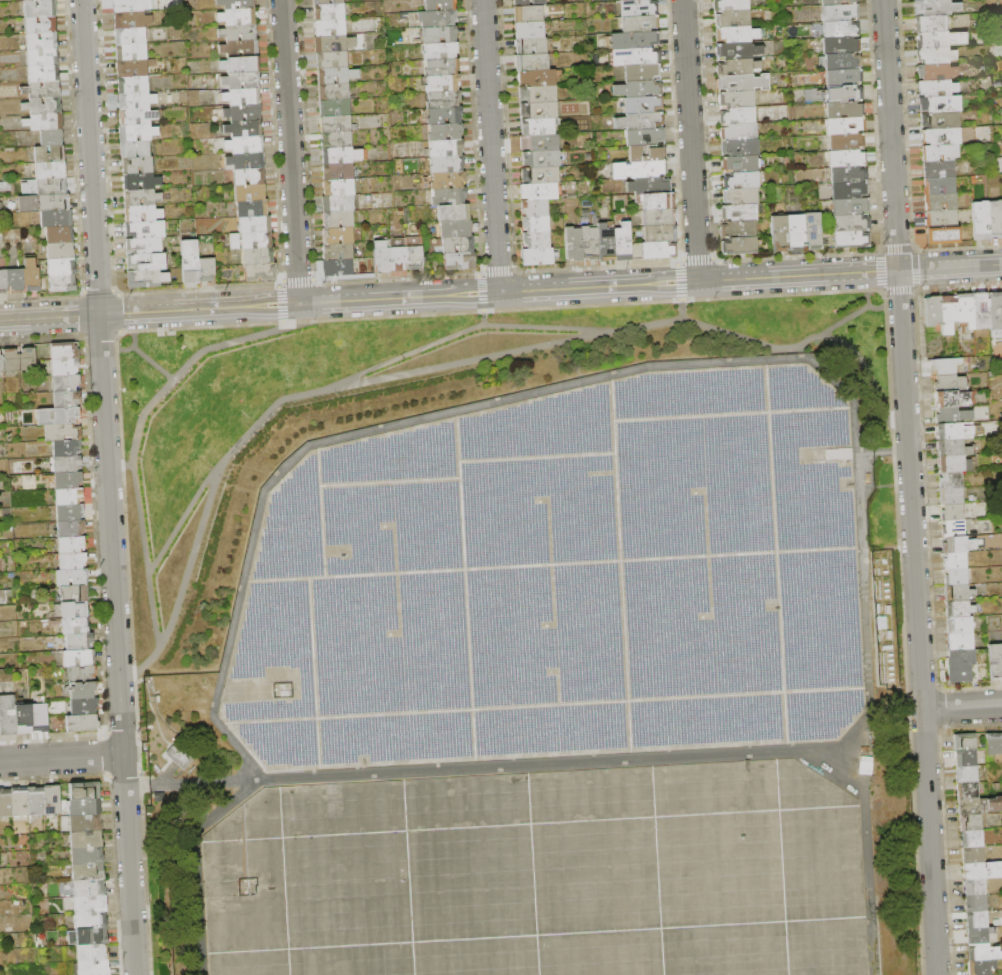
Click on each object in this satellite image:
building: (34, 0)
building: (513, 0)
building: (630, 0)
building: (338, 1)
building: (320, 2)
building: (521, 3)
building: (540, 3)
building: (838, 3)
building: (236, 4)
building: (440, 5)
building: (731, 5)
building: (131, 6)
building: (937, 7)
building: (639, 8)
building: (41, 9)
building: (329, 12)
building: (839, 13)
building: (529, 14)
building: (238, 17)
building: (438, 19)
building: (733, 19)
building: (132, 20)
building: (640, 23)
building: (931, 24)
building: (41, 26)
building: (330, 27)
building: (840, 29)
building: (529, 30)
building: (238, 33)
building: (737, 34)
building: (440, 35)
building: (131, 36)
building: (634, 40)
building: (940, 40)
building: (42, 42)
building: (334, 43)
building: (532, 46)
building: (841, 46)
building: (240, 48)
building: (746, 50)
building: (441, 51)
building: (132, 53)
building: (935, 56)
building: (635, 57)
building: (43, 58)
building: (332, 60)
building: (843, 61)
building: (532, 62)
building: (240, 65)
building: (738, 67)
building: (135, 68)
building: (442, 68)
building: (642, 72)
building: (936, 72)
building: (44, 74)
building: (333, 76)
building: (843, 77)
building: (537, 78)
building: (241, 81)
building: (743, 82)
building: (442, 84)
building: (133, 85)
building: (937, 88)
building: (638, 89)
building: (42, 90)
building: (334, 92)
building: (538, 94)
building: (845, 94)
building: (242, 97)
building: (737, 99)
building: (443, 100)
building: (136, 101)
building: (644, 104)
building: (940, 104)
building: (43, 106)
building: (335, 108)
building: (844, 109)
building: (539, 110)
building: (243, 112)
building: (445, 116)
building: (738, 116)
building: (137, 117)
building: (941, 120)
building: (640, 121)
building: (45, 122)
building: (335, 124)
building: (845, 125)
building: (538, 127)
building: (244, 129)
building: (445, 132)
building: (739, 132)
building: (137, 133)
building: (941, 136)
building: (645, 137)
building: (51, 138)
building: (336, 140)
road: (690, 141)
building: (846, 141)
building: (540, 143)
building: (245, 145)
road: (491, 146)
building: (740, 148)
building: (135, 149)
building: (446, 149)
road: (290, 152)
building: (940, 153)
building: (50, 154)
building: (647, 154)
building: (341, 156)
building: (847, 158)
building: (542, 159)
building: (246, 161)
building: (740, 164)
building: (138, 165)
building: (447, 165)
building: (49, 170)
building: (639, 170)
building: (939, 170)
building: (339, 172)
building: (540, 175)
building: (848, 175)
building: (249, 176)
building: (448, 180)
building: (742, 180)
building: (141, 181)
building: (650, 186)
building: (939, 186)
building: (48, 187)
building: (339, 187)
building: (849, 190)
building: (250, 192)
building: (539, 192)
building: (742, 196)
building: (449, 197)
building: (142, 198)
building: (941, 201)
building: (658, 202)
building: (44, 203)
building: (338, 204)
building: (850, 206)
building: (252, 208)
building: (536, 208)
building: (740, 212)
building: (453, 213)
building: (154, 214)
building: (659, 218)
building: (941, 218)
building: (56, 219)
building: (338, 219)
building: (996, 219)
building: (982, 221)
building: (851, 223)
building: (255, 224)
building: (536, 224)
building: (456, 228)
building: (146, 229)
building: (739, 229)
building: (813, 230)
building: (796, 232)
building: (780, 233)
building: (660, 234)
building: (60, 235)
building: (337, 235)
building: (943, 235)
building: (851, 239)
building: (537, 240)
building: (251, 241)
building: (623, 242)
building: (590, 243)
building: (606, 243)
building: (458, 244)
building: (573, 244)
building: (144, 245)
building: (740, 246)
building: (658, 250)
building: (61, 251)
building: (338, 252)
building: (259, 256)
building: (539, 256)
building: (414, 257)
building: (398, 259)
building: (383, 260)
building: (148, 261)
building: (190, 261)
building: (460, 261)
building: (338, 268)
building: (207, 269)
building: (261, 272)
building: (31, 275)
building: (61, 276)
building: (147, 278)
building: (15, 280)
building: (3, 282)
road: (500, 292)
road: (681, 301)
road: (868, 304)
road: (483, 309)
building: (966, 309)
building: (933, 311)
building: (981, 311)
building: (948, 314)
building: (996, 314)
road: (843, 320)
road: (460, 332)
road: (131, 345)
building: (64, 351)
building: (11, 360)
building: (28, 360)
building: (1, 362)
road: (151, 363)
road: (453, 363)
building: (946, 366)
building: (65, 367)
building: (66, 383)
building: (950, 384)
building: (67, 399)
building: (953, 400)
building: (59, 416)
building: (953, 416)
road: (373, 423)
building: (955, 431)
building: (62, 432)
road: (136, 434)
building: (66, 448)
building: (953, 448)
building: (68, 464)
building: (951, 464)
road: (120, 465)
building: (69, 480)
building: (951, 480)
road: (109, 487)
road: (909, 487)
building: (69, 496)
building: (951, 496)
building: (70, 512)
road: (185, 512)
building: (953, 512)
building: (954, 528)
building: (71, 529)
building: (72, 545)
building: (958, 545)
building: (73, 561)
building: (956, 561)
building: (72, 577)
building: (956, 577)
solar farm: (560, 580)
building: (959, 593)
building: (74, 594)
building: (1, 595)
building: (960, 609)
building: (74, 610)
building: (960, 625)
building: (76, 626)
building: (961, 641)
building: (79, 642)
building: (79, 658)
building: (995, 662)
building: (961, 665)
building: (82, 674)
building: (83, 691)
building: (85, 707)
road: (962, 707)
building: (8, 716)
building: (39, 718)
building: (23, 719)
building: (82, 723)
building: (965, 741)
building: (994, 743)
building: (176, 755)
road: (62, 757)
building: (965, 757)
building: (966, 774)
building: (967, 790)
building: (85, 791)
building: (52, 800)
building: (19, 801)
building: (35, 801)
building: (6, 803)
building: (979, 806)
building: (85, 807)
building: (971, 823)
building: (85, 824)
building: (972, 839)
building: (86, 840)
building: (973, 855)
building: (87, 856)
building: (983, 871)
building: (89, 872)
building: (975, 887)
building: (89, 888)
building: (976, 903)
building: (90, 904)
building: (977, 920)
building: (91, 921)
building: (979, 935)
building: (88, 937)
building: (93, 952)
building: (983, 952)
building: (94, 967)
building: (982, 967)

